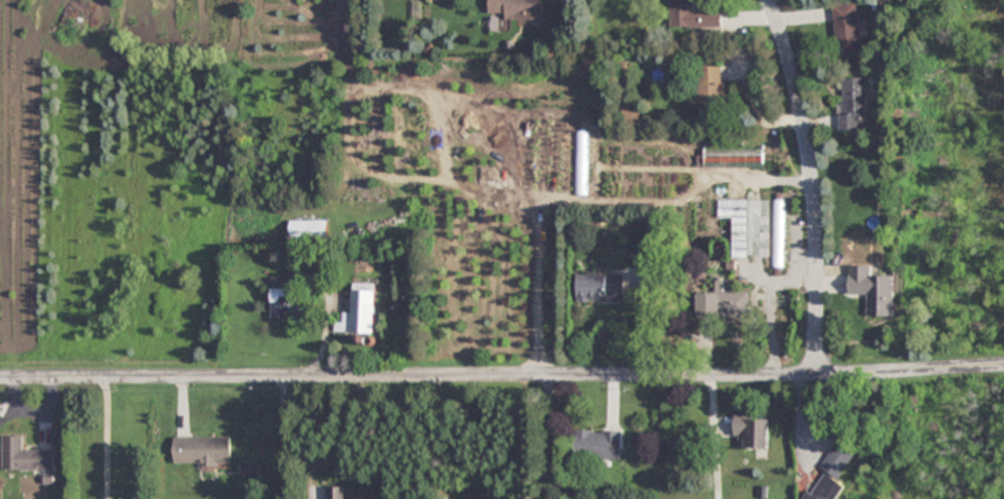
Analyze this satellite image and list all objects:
building: (517, 9)
building: (699, 16)
building: (853, 28)
building: (713, 92)
building: (859, 103)
building: (733, 157)
building: (580, 162)
road: (812, 181)
building: (309, 228)
building: (757, 228)
building: (602, 287)
building: (882, 291)
building: (290, 296)
building: (725, 301)
building: (786, 309)
building: (362, 311)
road: (502, 373)
building: (756, 431)
road: (717, 435)
road: (549, 436)
building: (603, 444)
building: (203, 450)
building: (26, 455)
building: (828, 483)
building: (341, 493)

